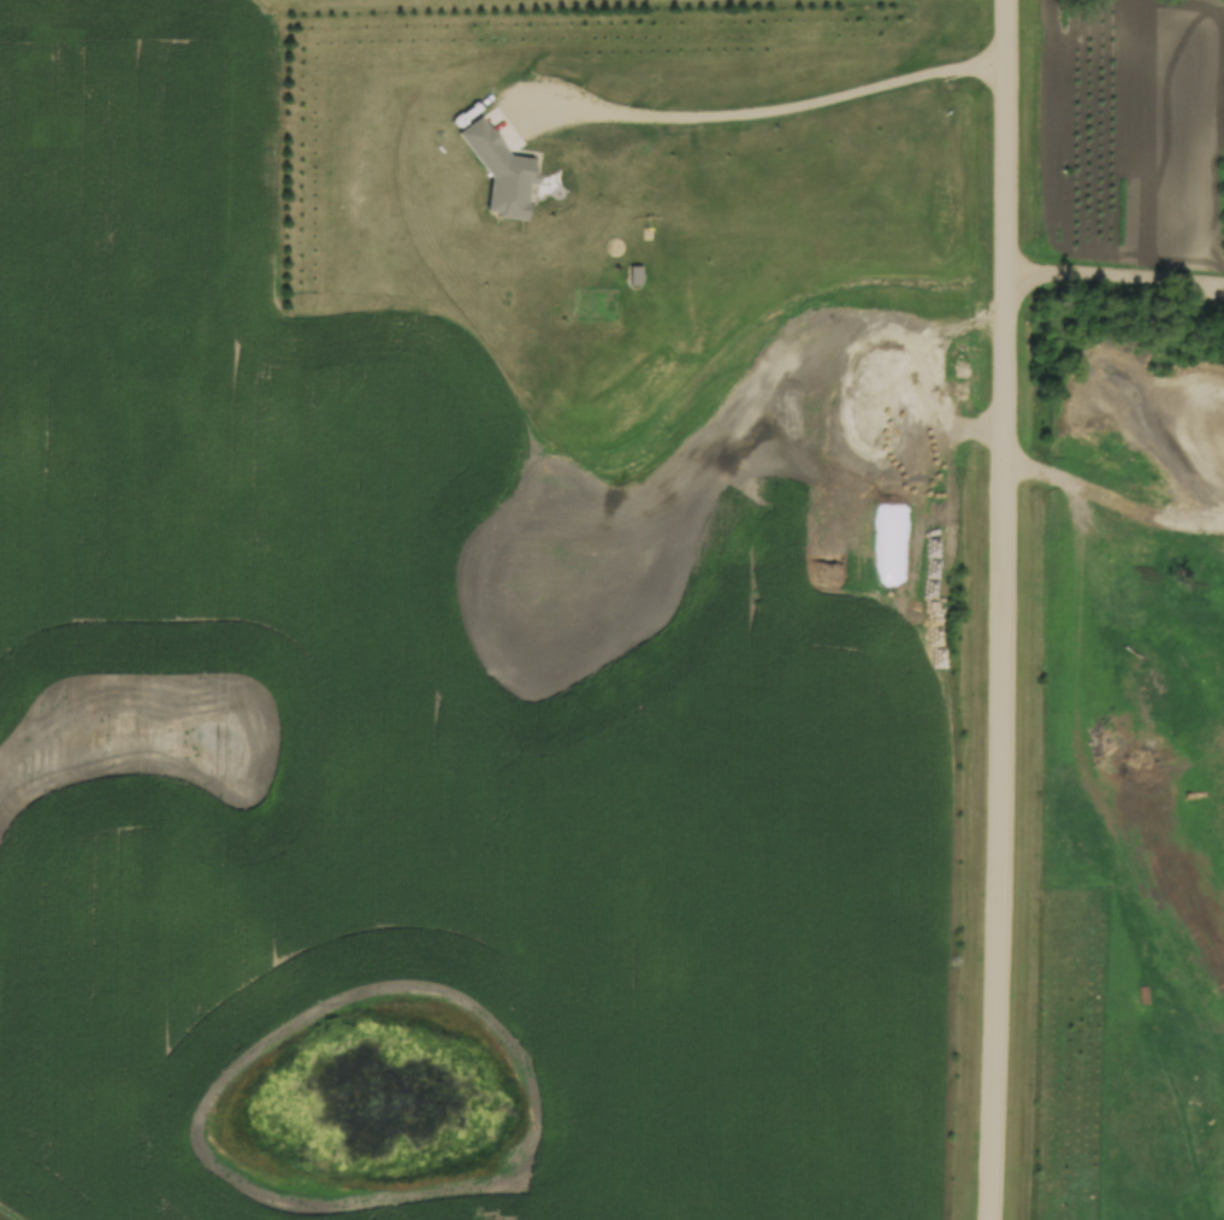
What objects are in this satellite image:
road: (1000, 609)

